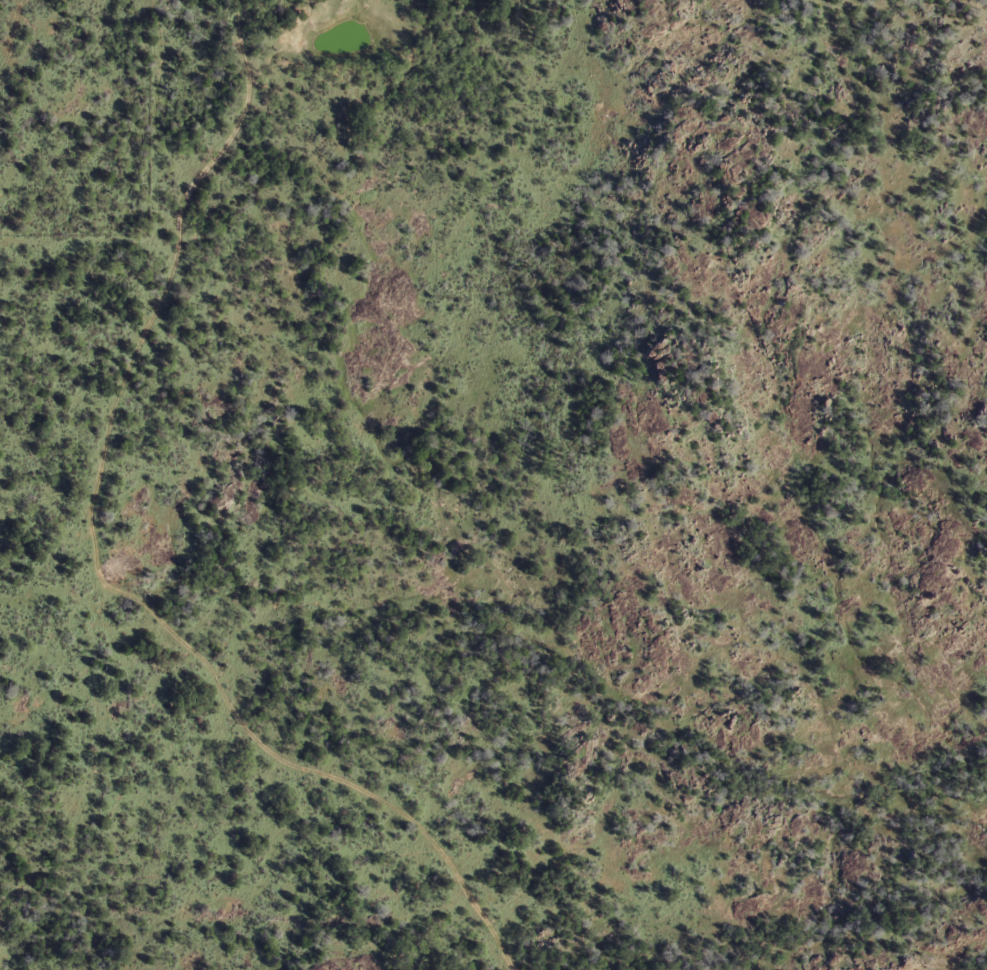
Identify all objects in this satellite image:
road: (2, 14)
road: (97, 564)

